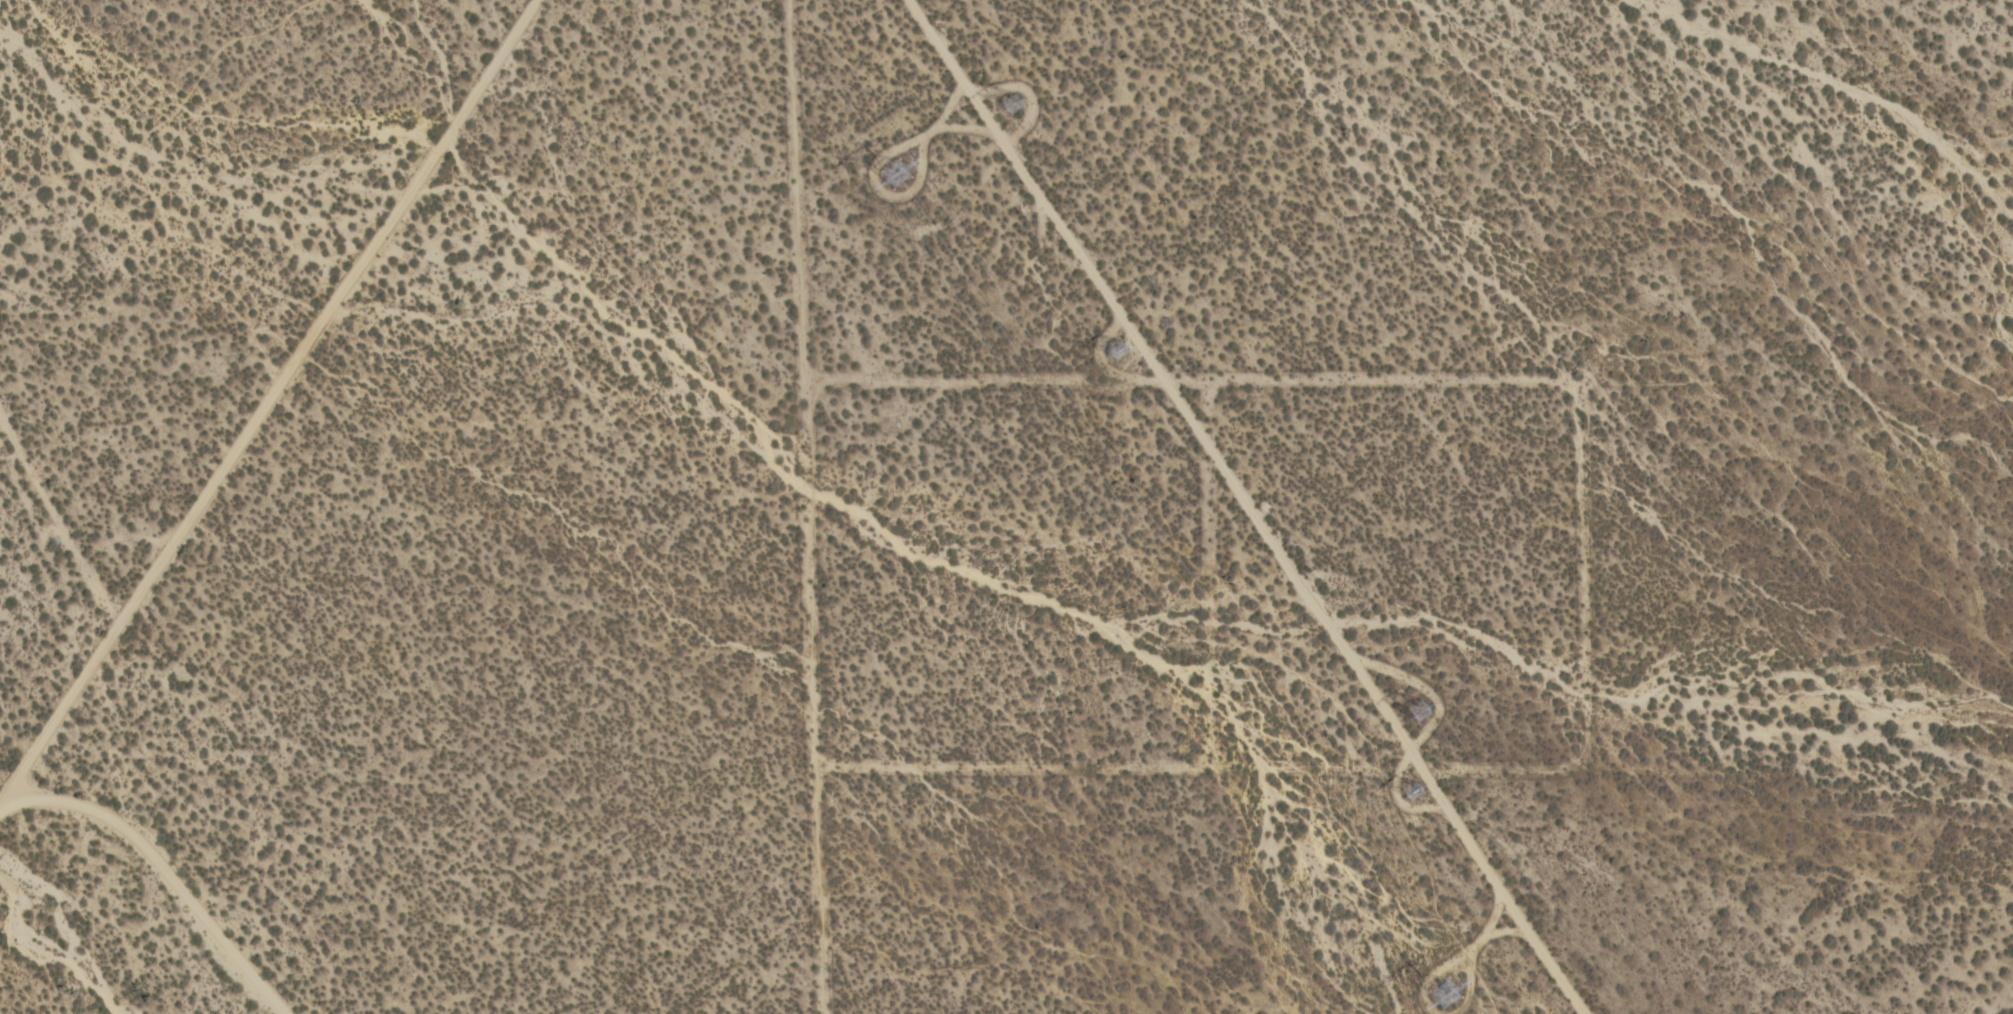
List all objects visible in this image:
power tower: (1024, 107)
power tower: (902, 173)
power tower: (1126, 355)
road: (1022, 374)
road: (268, 400)
road: (58, 521)
power tower: (1418, 708)
power tower: (1422, 794)
road: (163, 872)
power tower: (1452, 996)

